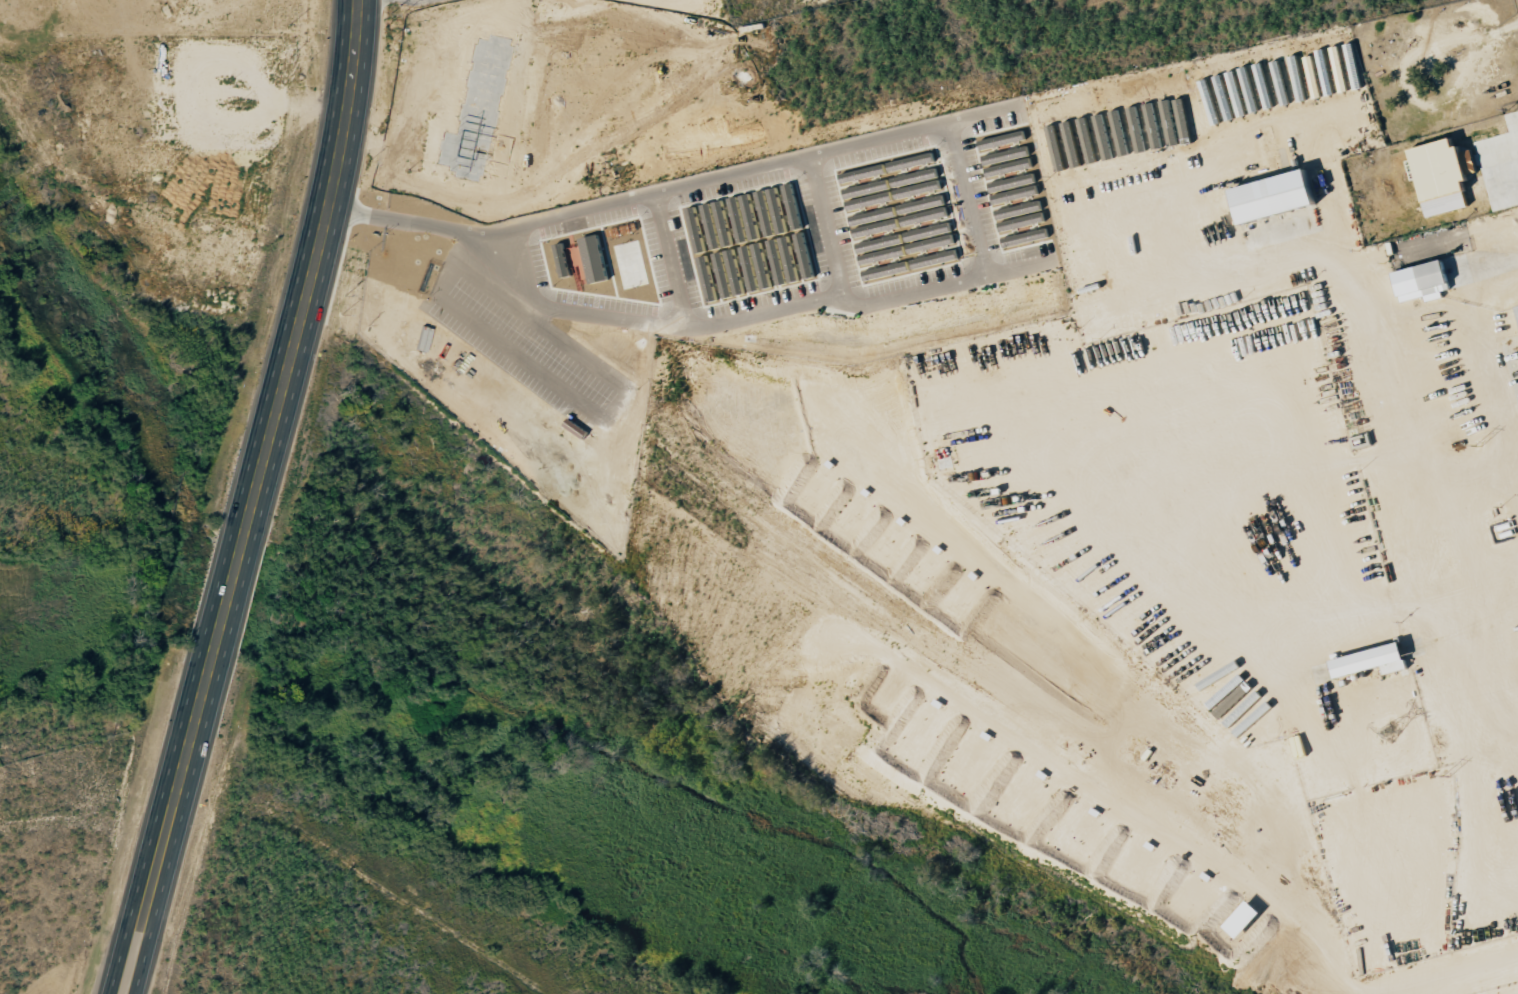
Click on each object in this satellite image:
building: (1294, 62)
building: (1354, 66)
building: (1339, 69)
building: (1313, 77)
building: (1281, 83)
building: (1264, 86)
building: (1248, 89)
building: (1235, 94)
building: (1223, 98)
building: (1150, 111)
building: (1166, 111)
building: (1137, 129)
building: (1120, 132)
building: (1104, 136)
building: (1088, 140)
building: (1073, 144)
building: (1057, 148)
road: (954, 151)
building: (1007, 161)
building: (888, 167)
building: (1443, 176)
building: (1012, 182)
building: (889, 183)
building: (919, 189)
building: (1015, 194)
building: (1281, 196)
building: (870, 200)
building: (922, 204)
building: (793, 206)
building: (1019, 209)
building: (765, 213)
building: (873, 216)
building: (925, 216)
building: (750, 217)
building: (738, 220)
building: (1022, 221)
building: (723, 223)
road: (824, 226)
building: (876, 227)
building: (929, 231)
building: (1025, 238)
building: (880, 243)
building: (931, 243)
building: (801, 244)
building: (884, 255)
road: (673, 257)
building: (596, 259)
building: (789, 259)
building: (563, 260)
building: (581, 261)
building: (762, 265)
building: (748, 268)
building: (734, 272)
building: (1426, 281)
road: (1414, 324)
road: (590, 412)
power tower: (1477, 446)
road: (252, 499)
park: (79, 565)
building: (1377, 661)
power tower: (1390, 733)
power tower: (1445, 777)

